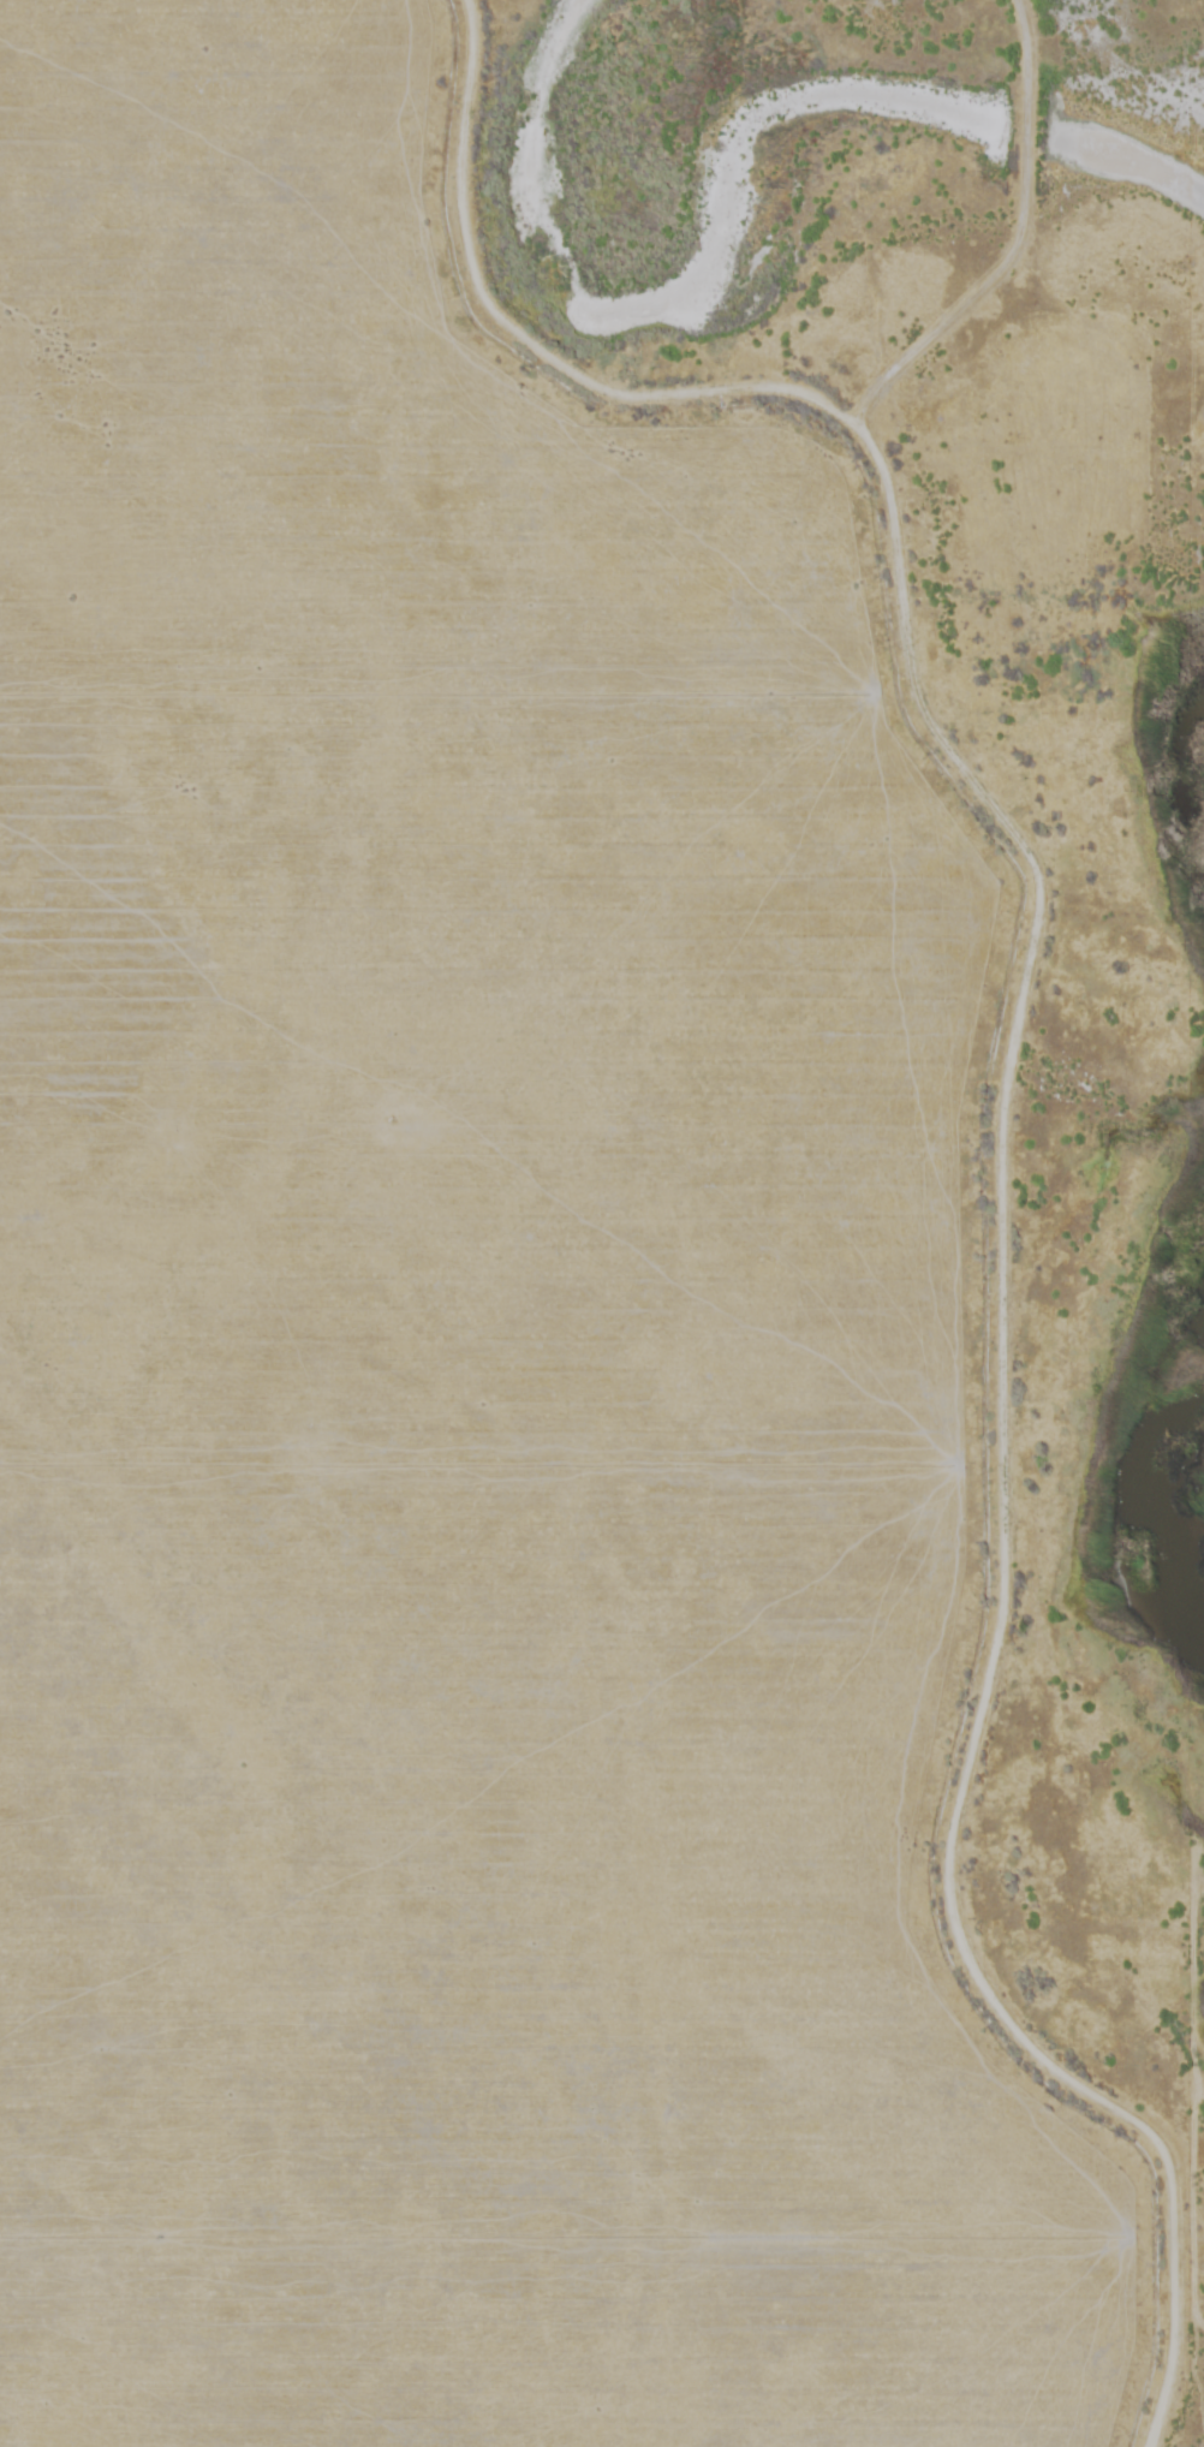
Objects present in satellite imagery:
crop: (483, 1348)

